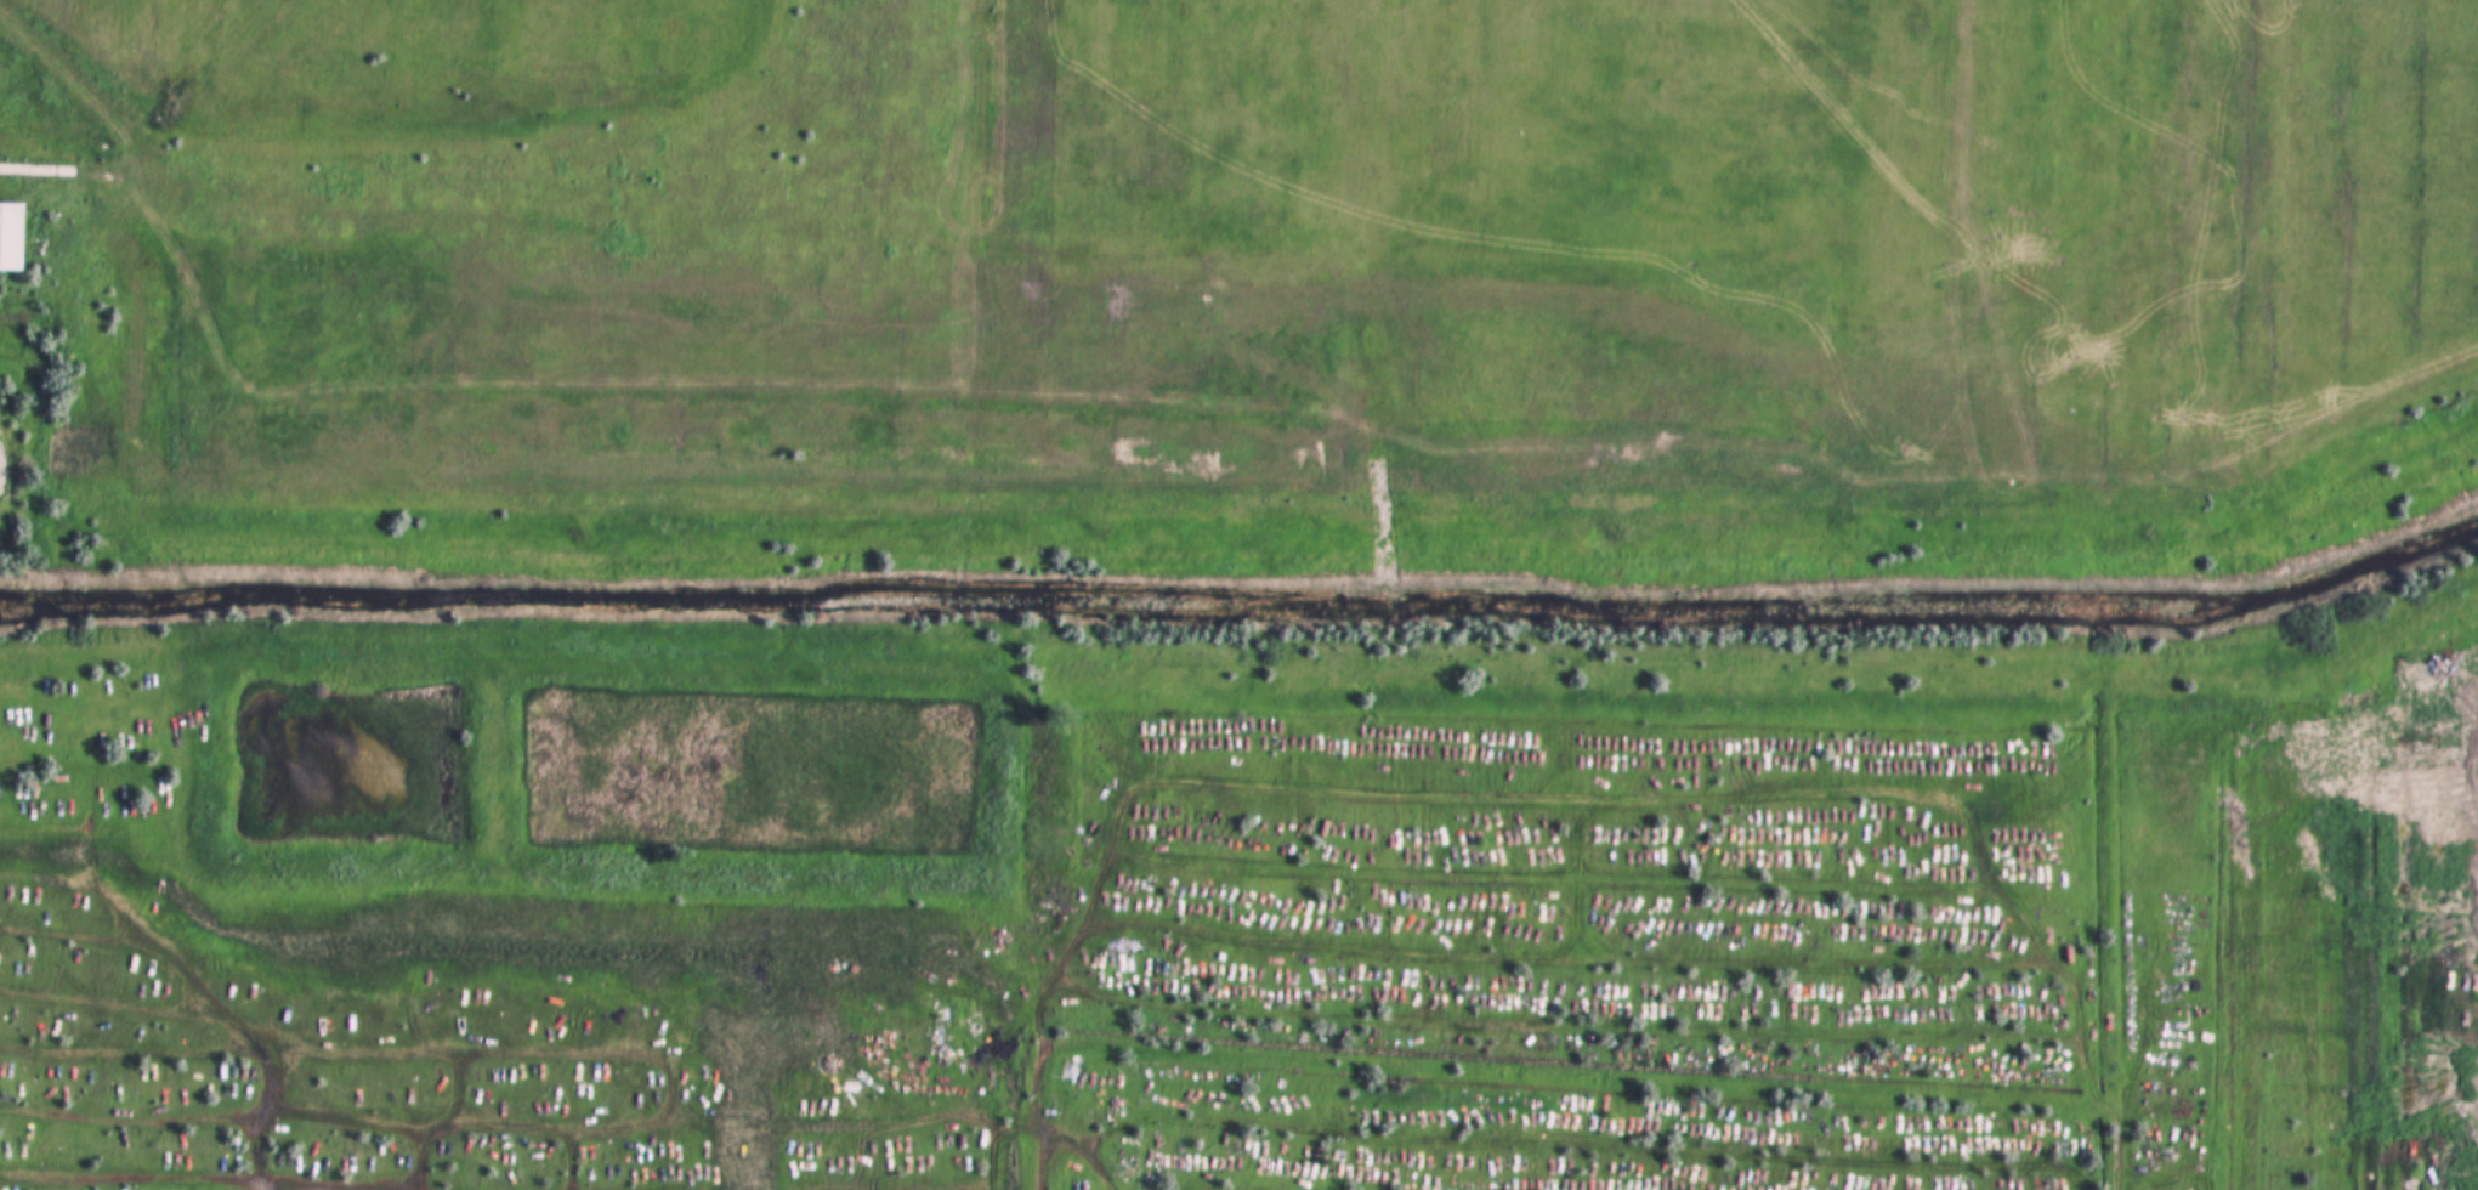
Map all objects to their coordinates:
building: (27, 186)
road: (1017, 200)
building: (12, 236)

